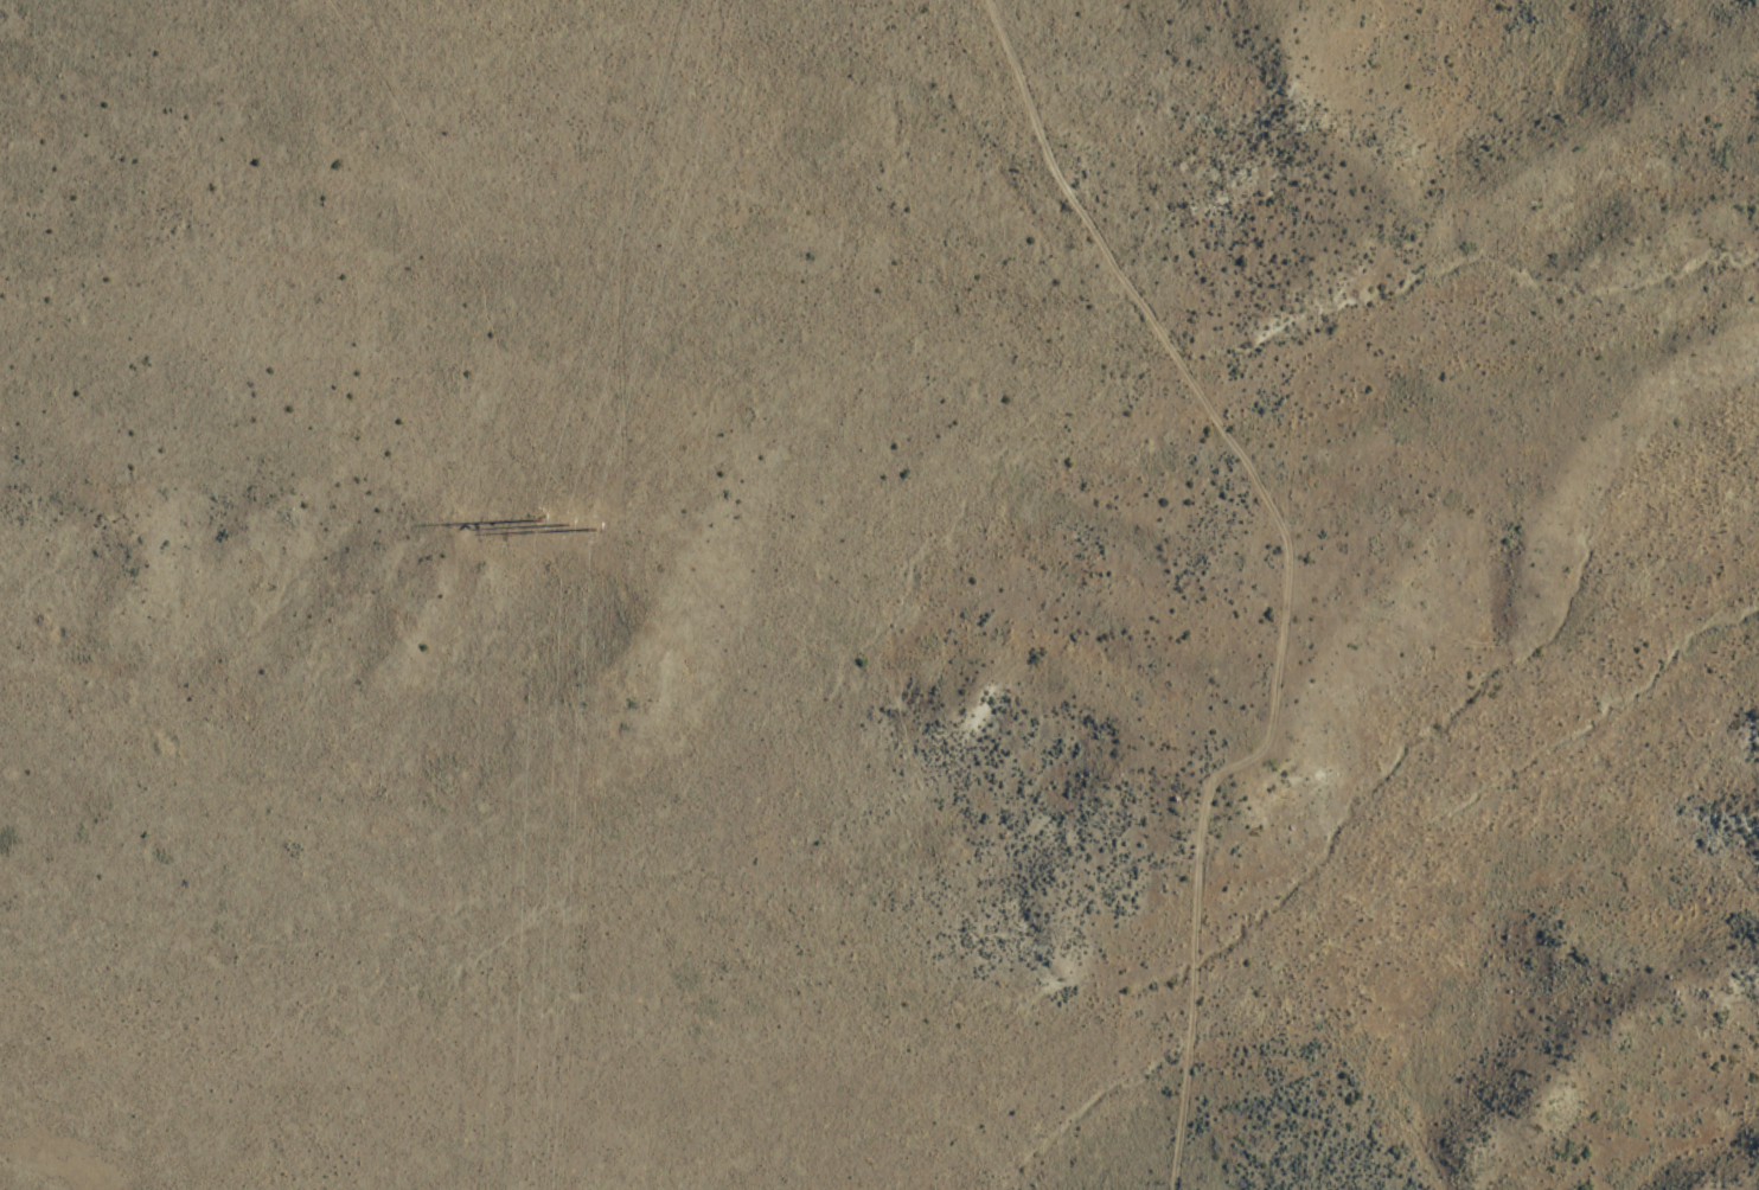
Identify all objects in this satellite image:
crop: (194, 6)
power tower: (569, 539)
road: (1284, 570)
crop: (9, 1178)

